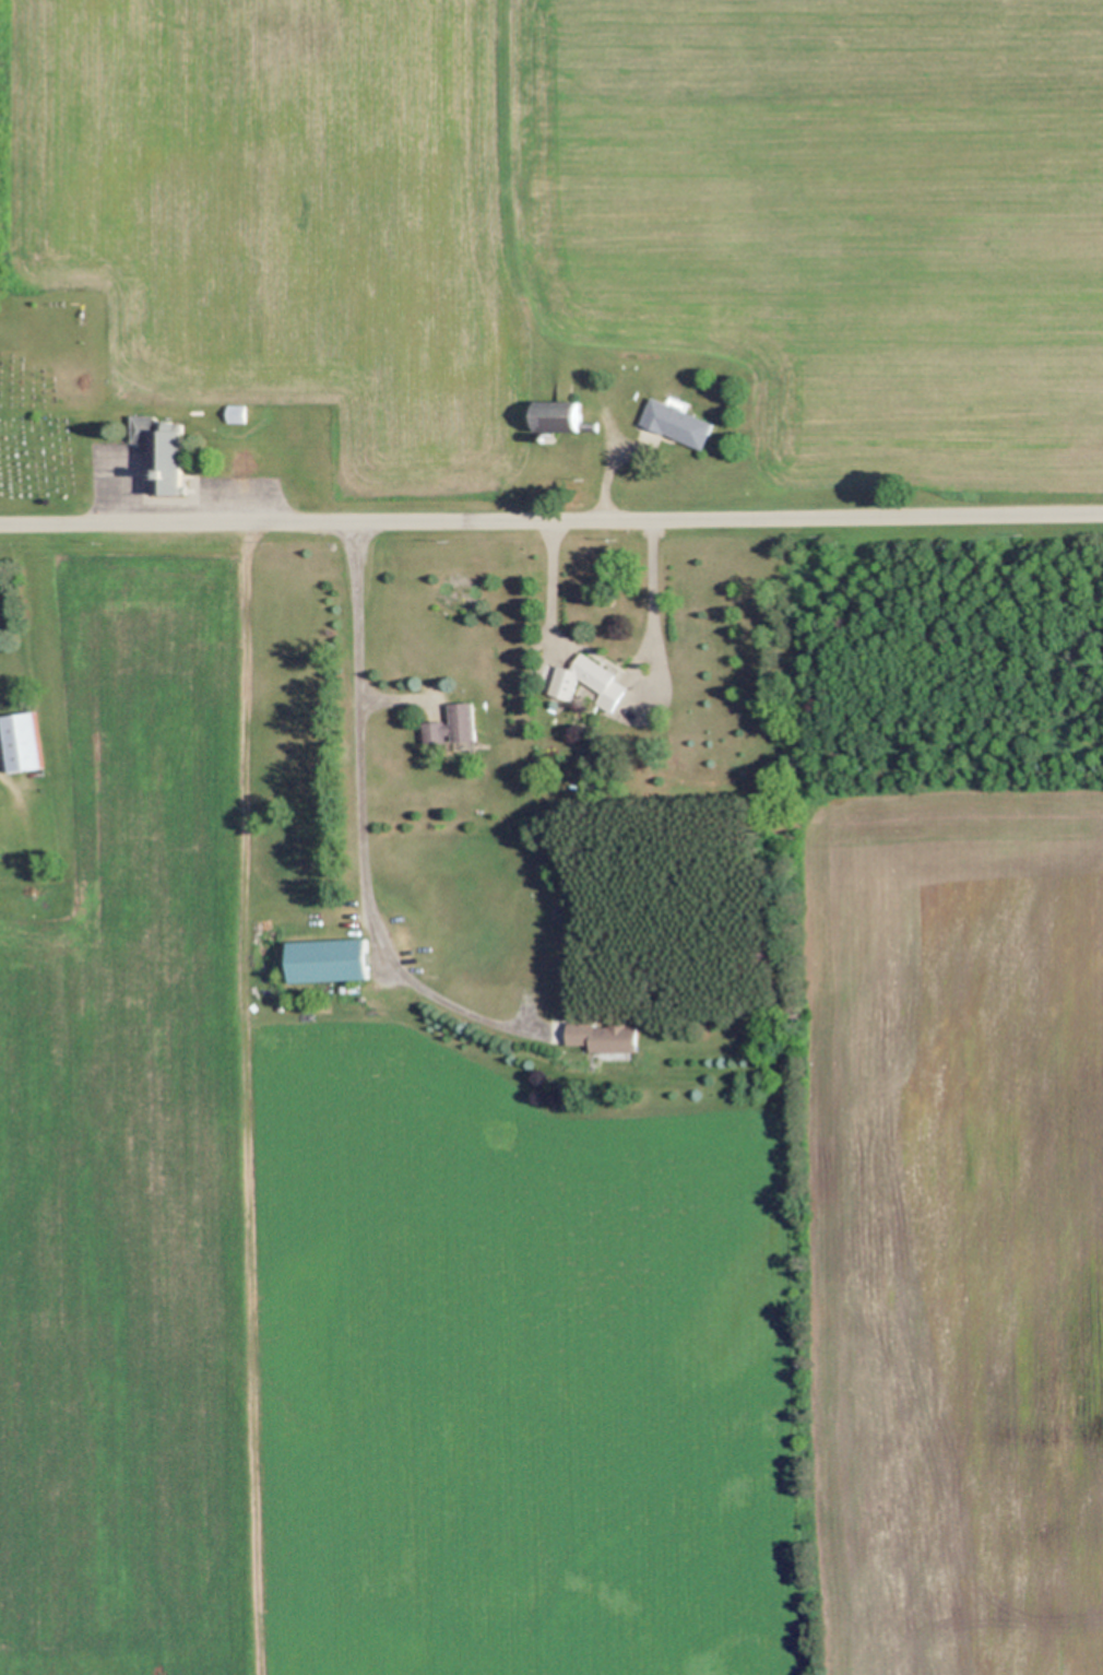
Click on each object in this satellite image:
building: (514, 318)
building: (551, 415)
building: (672, 422)
park: (43, 425)
building: (155, 451)
road: (615, 461)
road: (124, 487)
road: (551, 519)
road: (557, 581)
road: (660, 604)
building: (585, 680)
building: (451, 724)
building: (20, 741)
building: (467, 743)
building: (571, 788)
road: (365, 823)
building: (329, 960)
building: (601, 1036)

